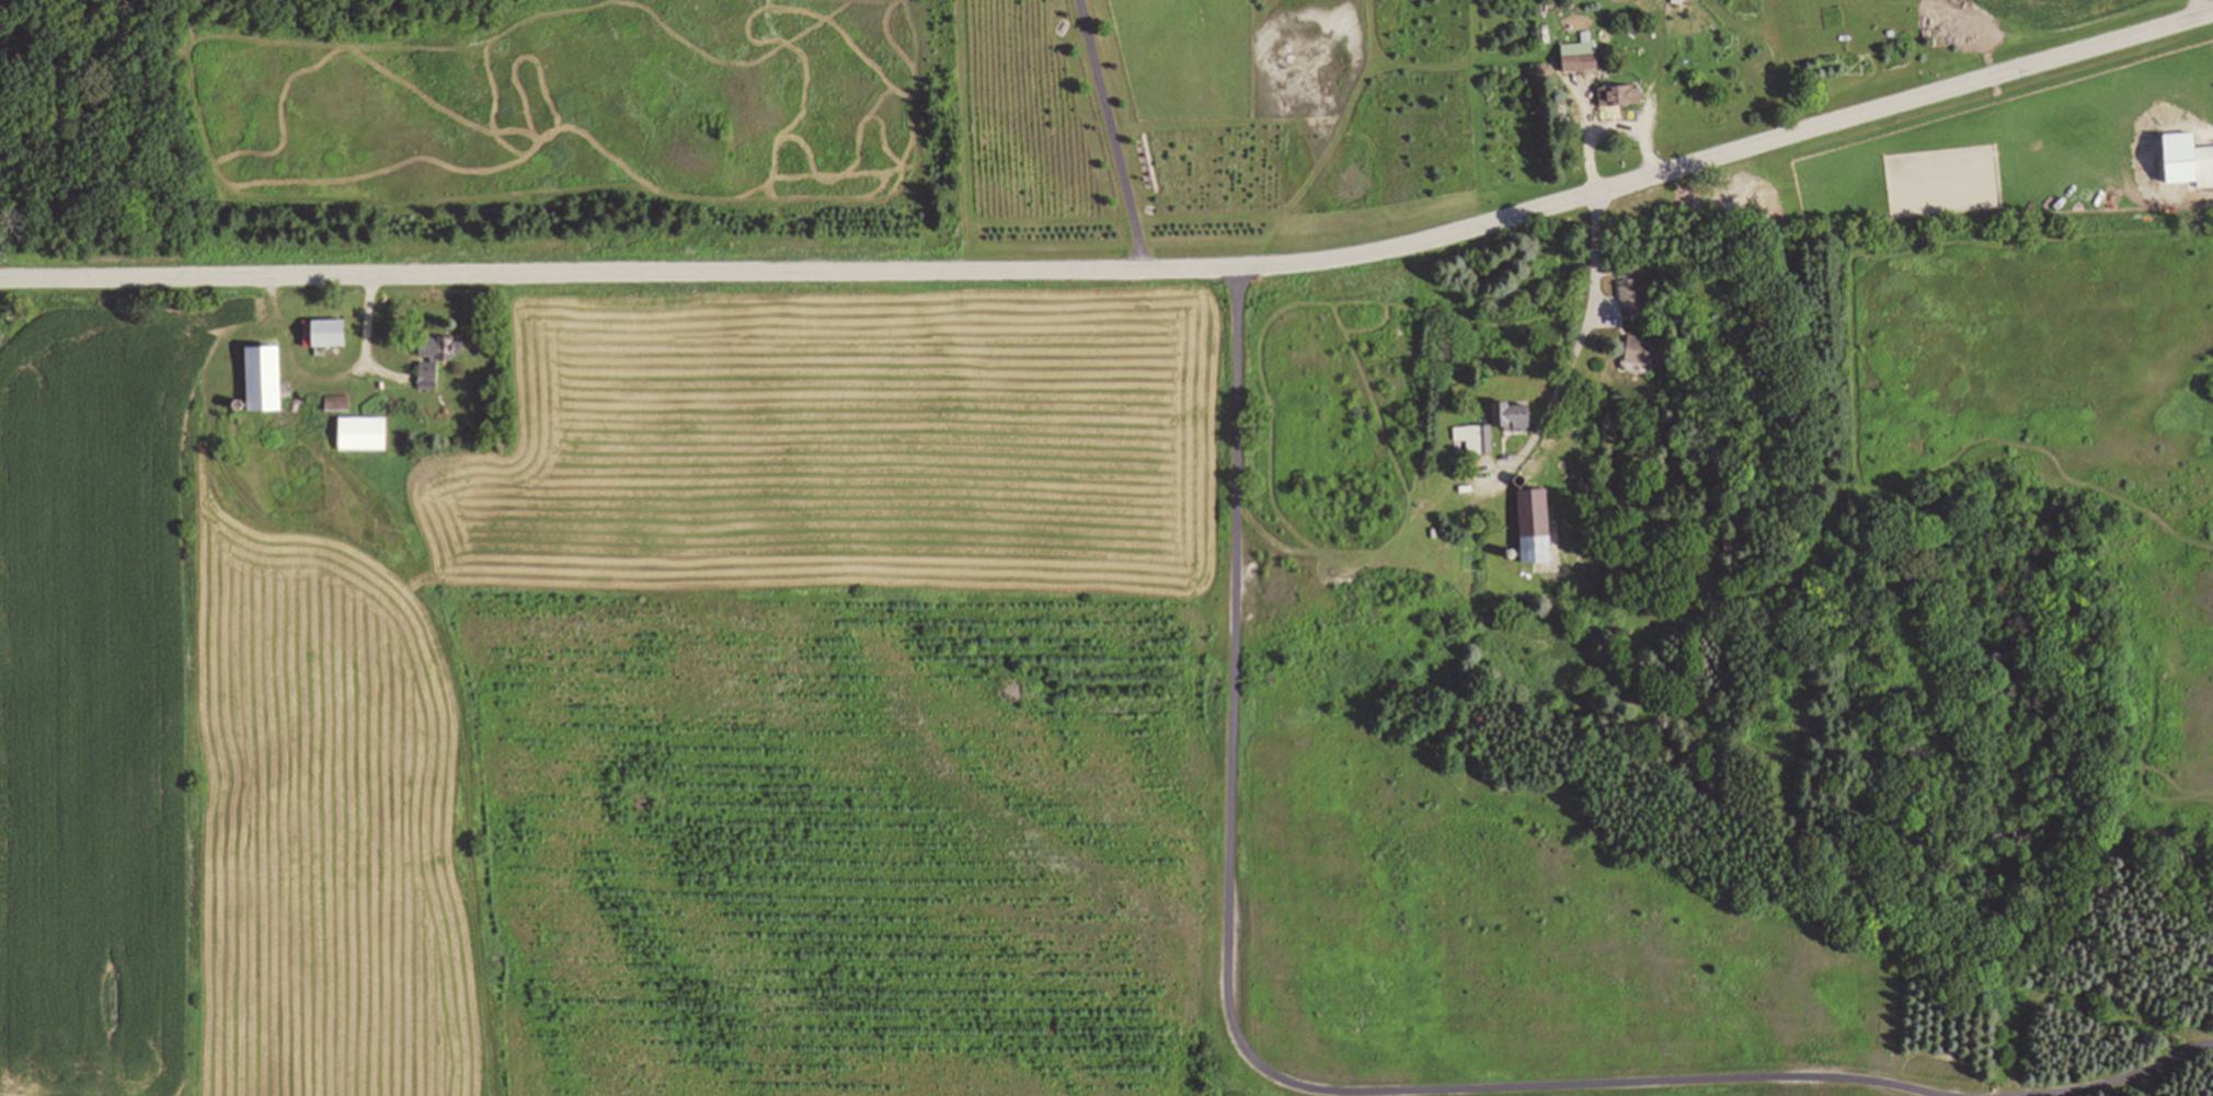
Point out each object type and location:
building: (1582, 57)
building: (1623, 96)
road: (1116, 135)
building: (2202, 168)
road: (1123, 269)
building: (1630, 298)
building: (331, 334)
road: (1582, 336)
building: (1641, 353)
building: (439, 359)
building: (272, 379)
building: (341, 404)
building: (1517, 416)
building: (368, 435)
building: (1476, 439)
building: (1540, 527)

